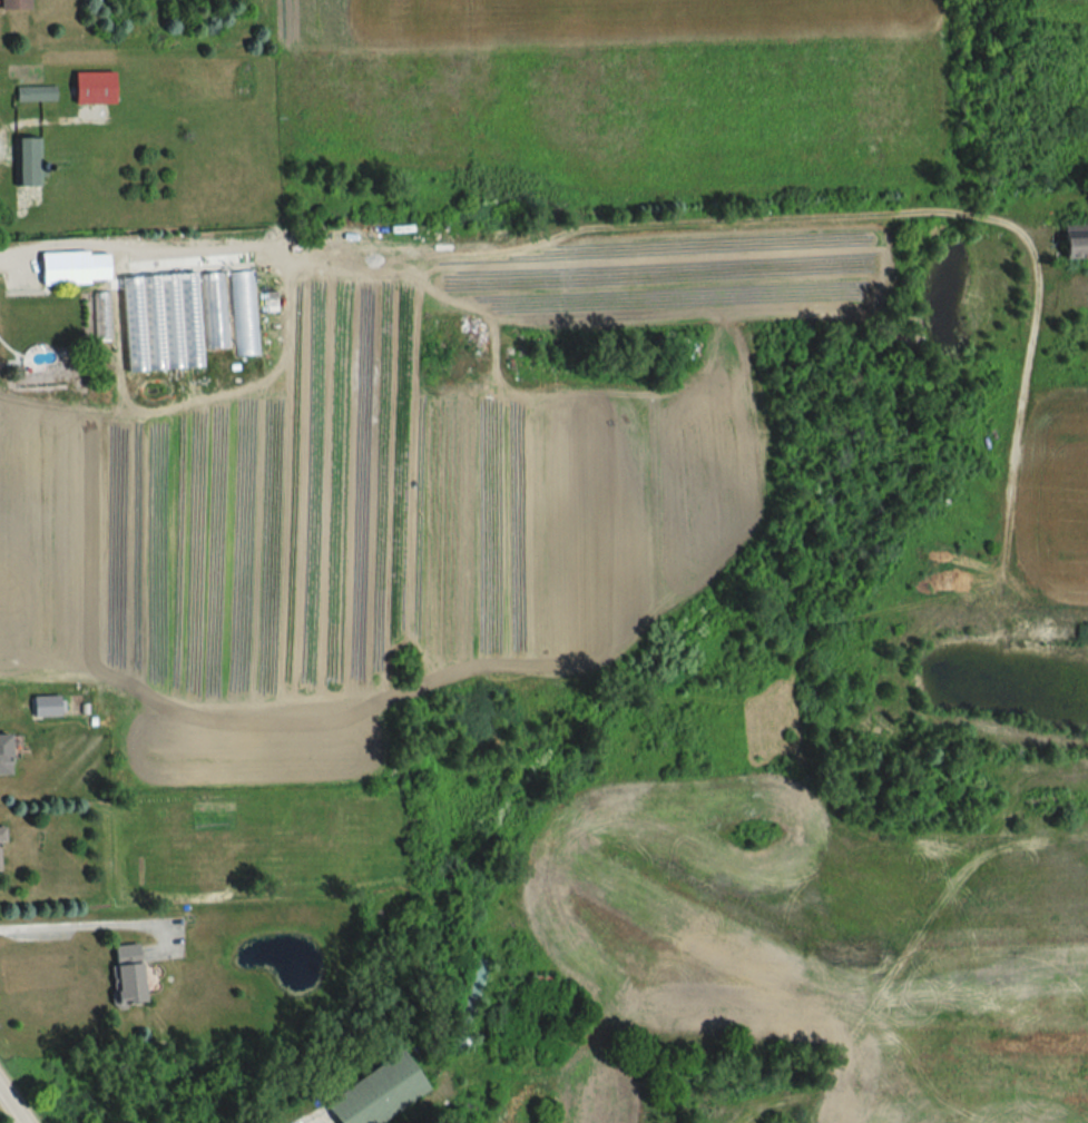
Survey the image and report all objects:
building: (13, 3)
building: (90, 88)
crop: (619, 89)
building: (35, 93)
building: (26, 161)
building: (97, 165)
building: (1072, 240)
road: (134, 250)
building: (72, 267)
building: (244, 313)
building: (156, 324)
building: (215, 342)
crop: (623, 351)
crop: (412, 477)
building: (97, 713)
building: (2, 753)
building: (0, 834)
road: (77, 927)
building: (122, 973)
building: (467, 1003)
building: (389, 1086)
road: (12, 1105)

